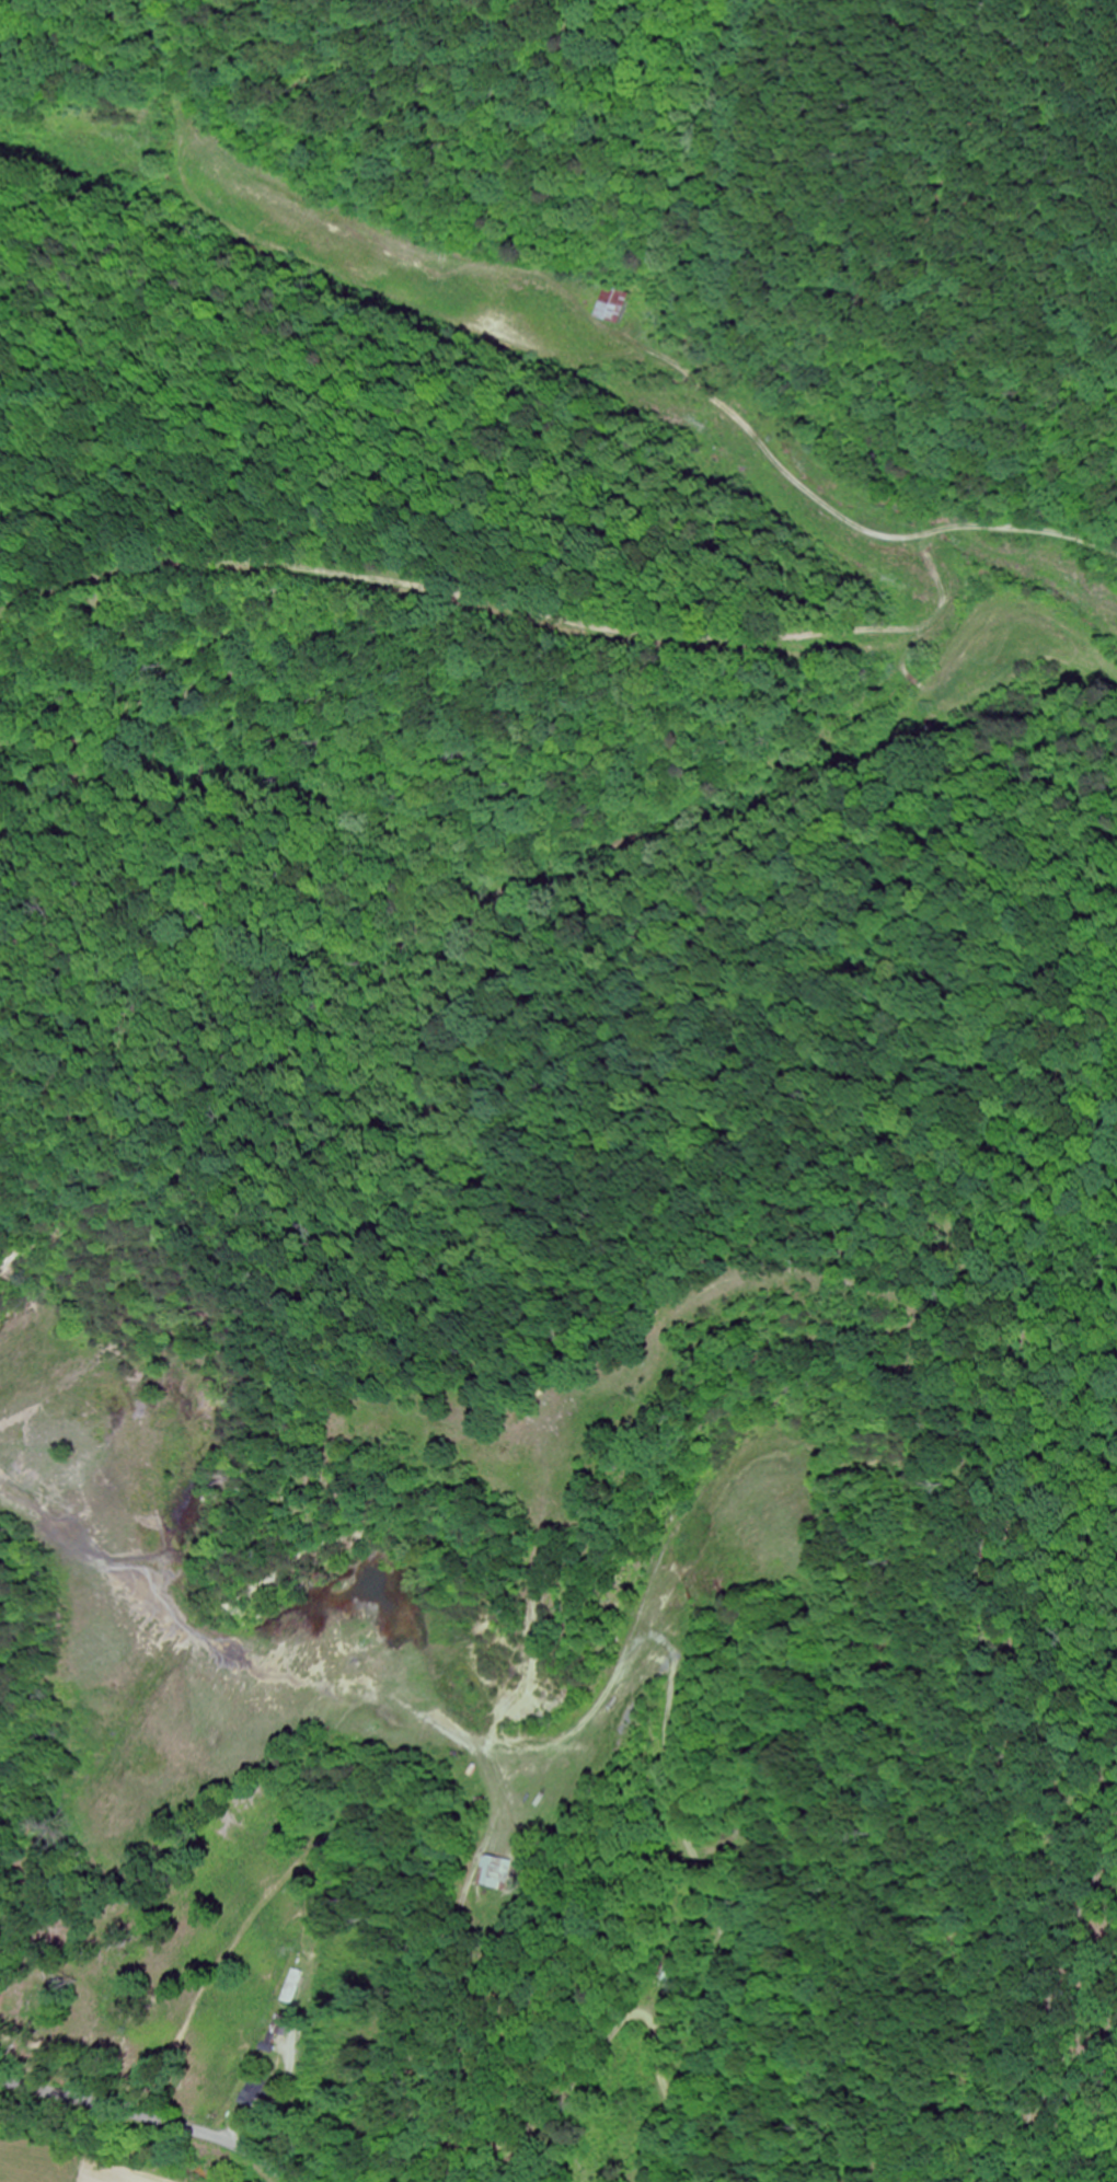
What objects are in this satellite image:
building: (613, 307)
building: (499, 1874)
building: (290, 1986)
road: (153, 2117)

